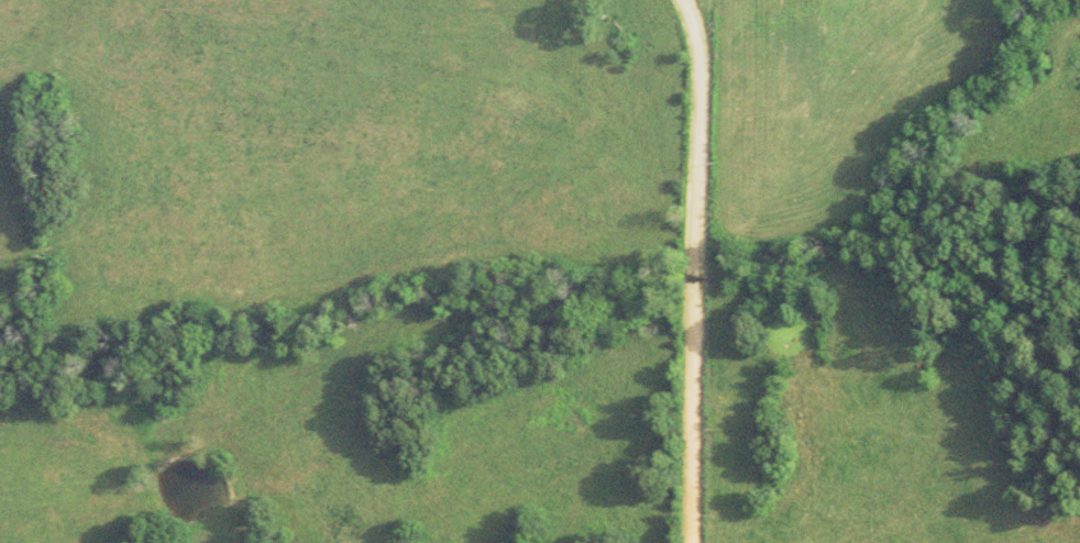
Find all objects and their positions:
road: (688, 269)

